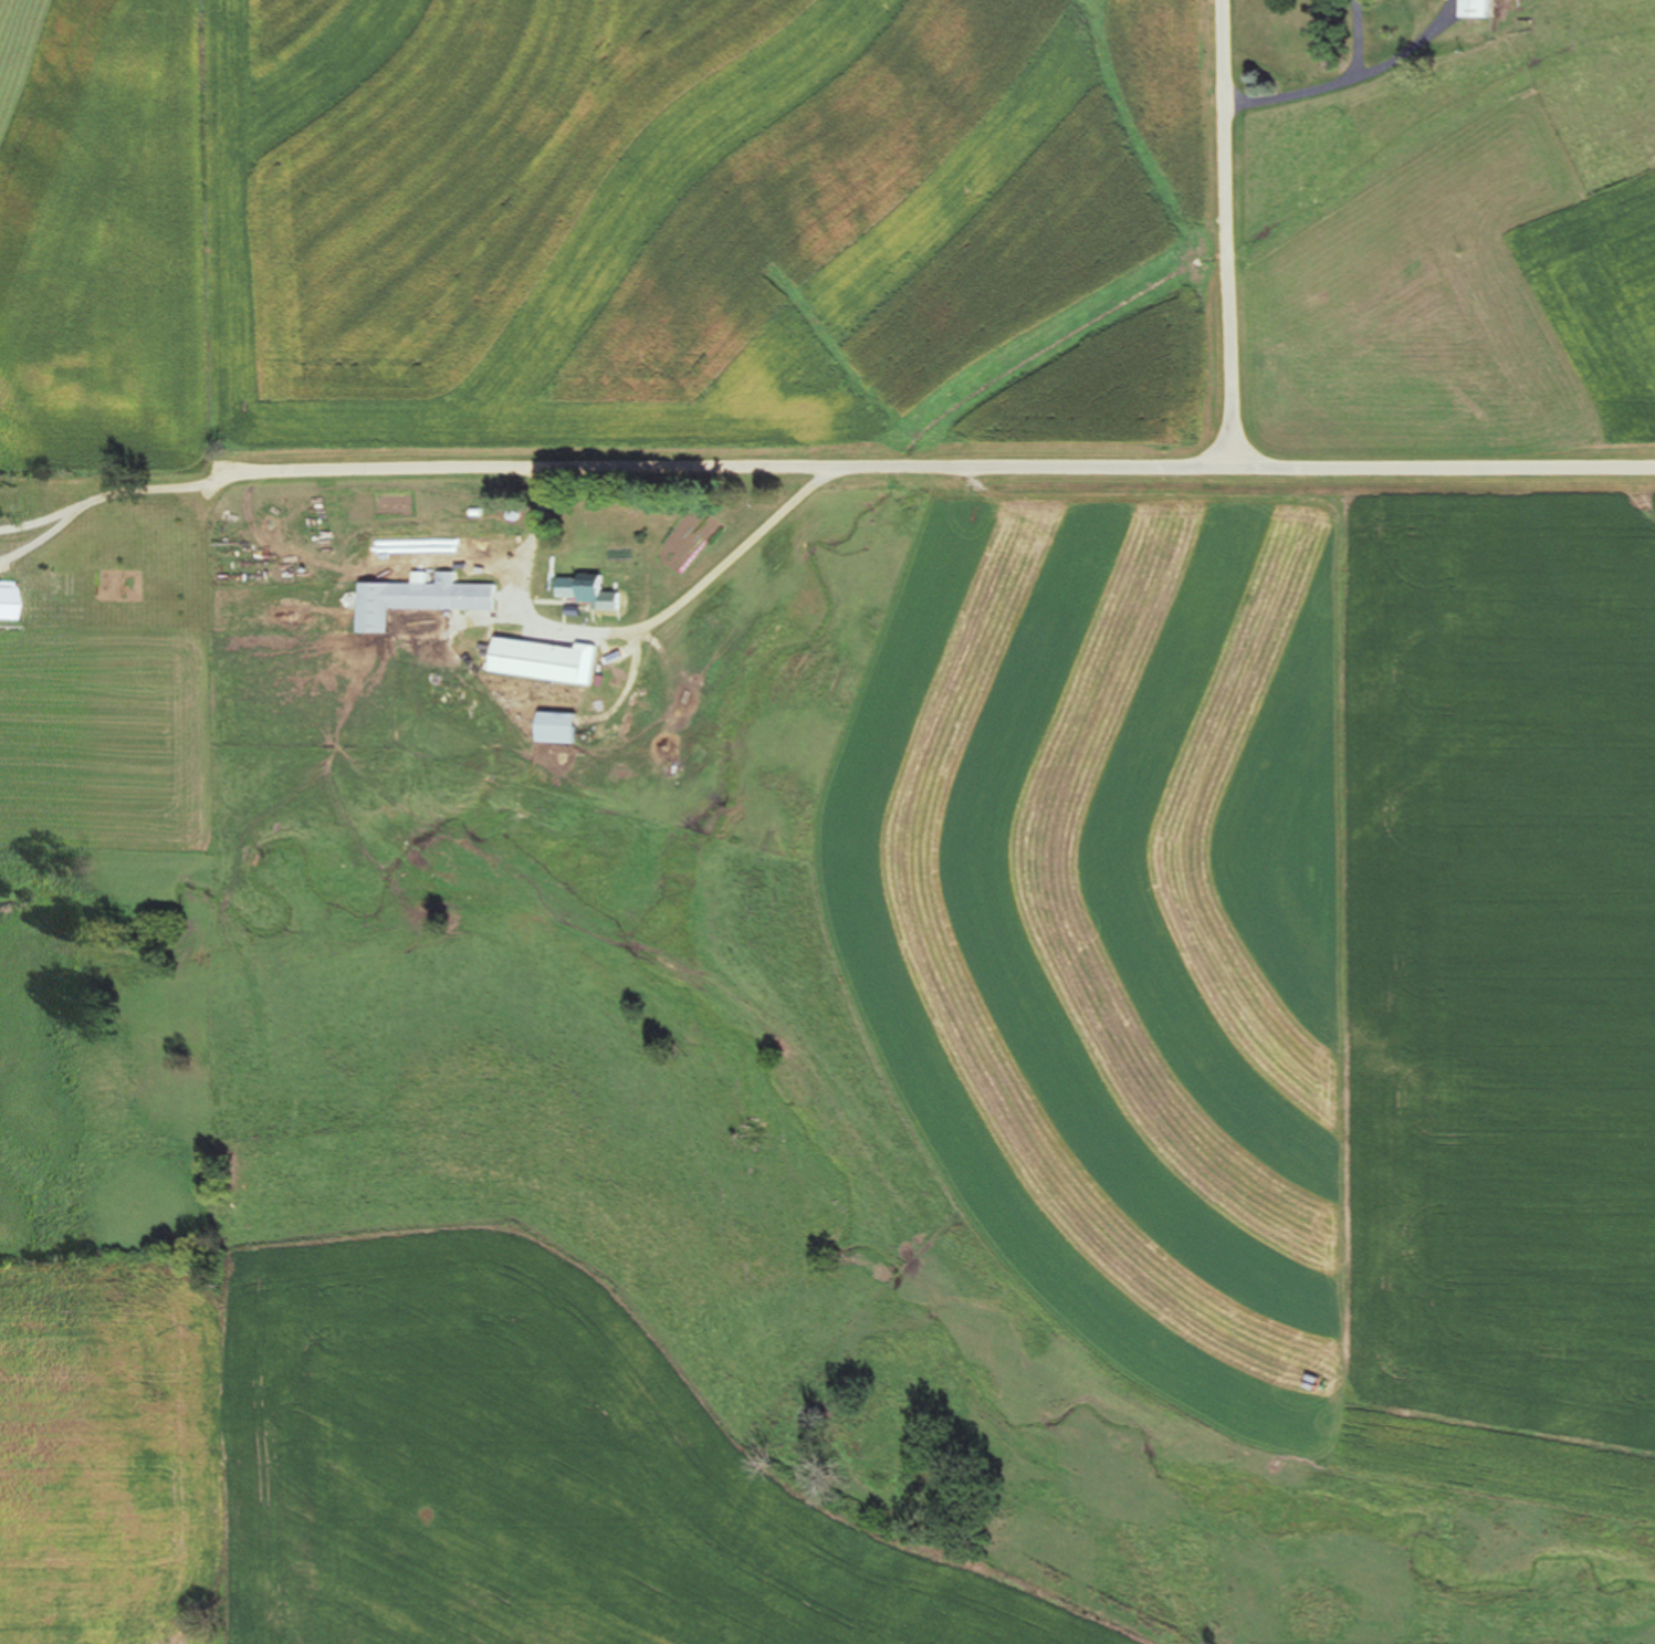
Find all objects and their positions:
building: (1486, 9)
road: (1232, 443)
road: (726, 470)
building: (585, 589)
building: (419, 599)
building: (7, 601)
building: (545, 662)
building: (561, 729)

